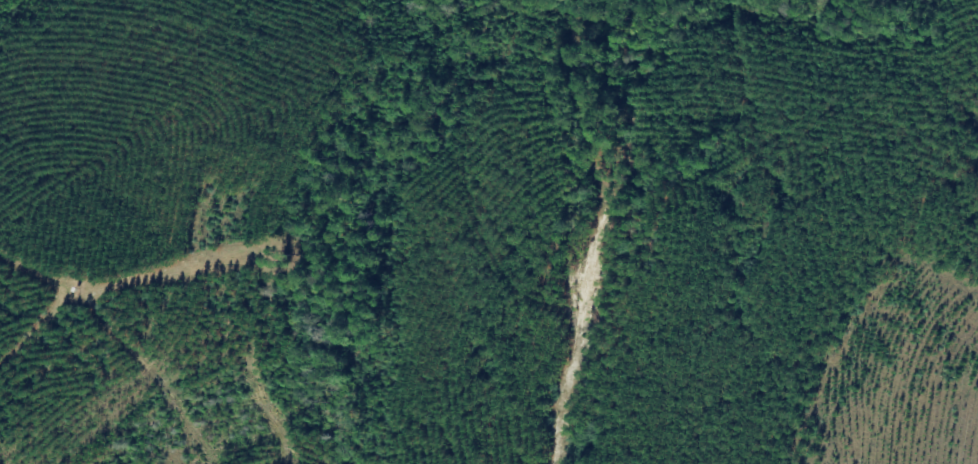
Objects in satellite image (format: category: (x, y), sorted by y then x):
road: (749, 222)

